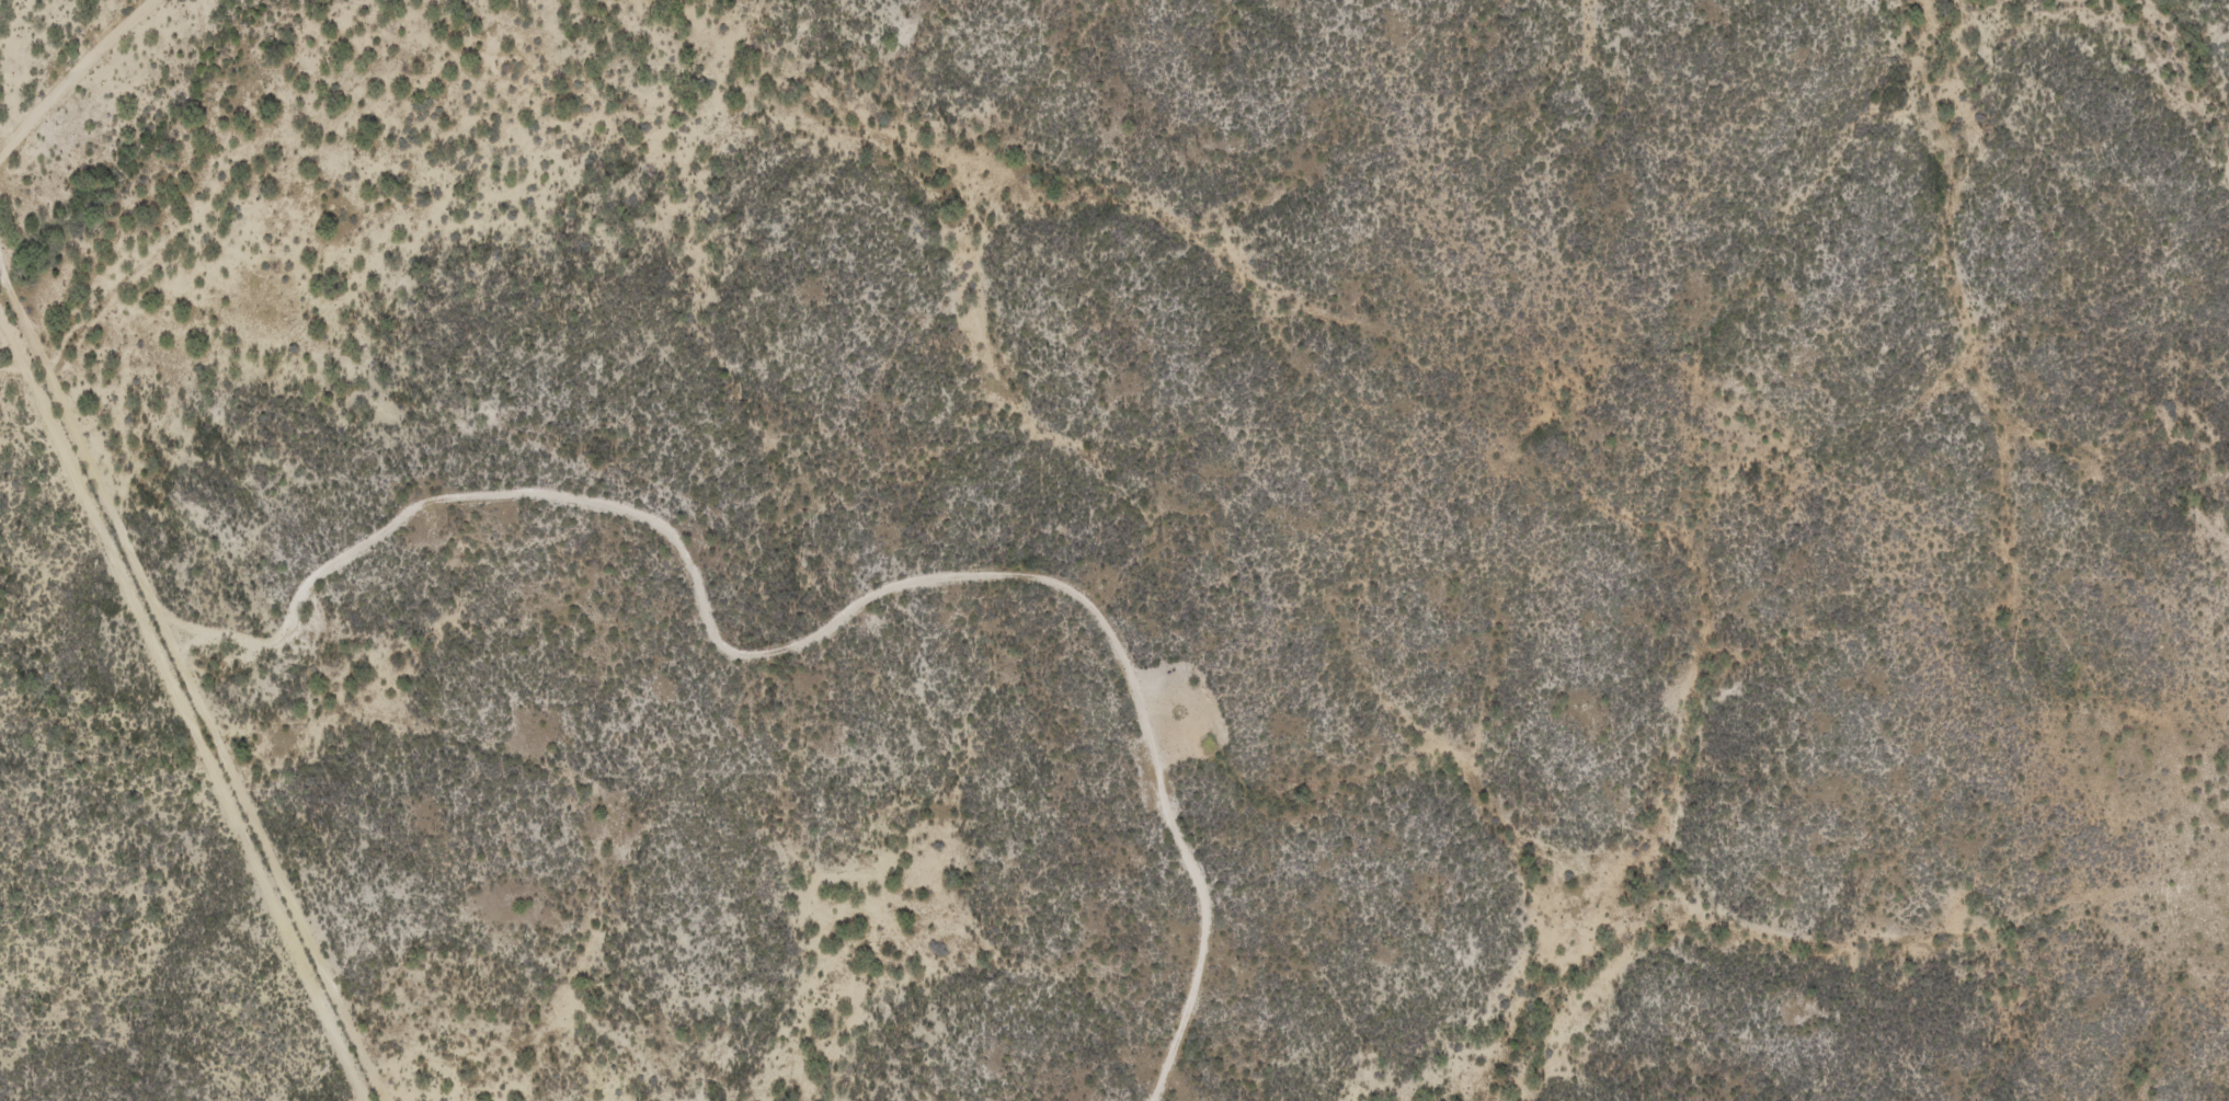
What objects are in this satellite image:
road: (70, 71)
road: (192, 696)

